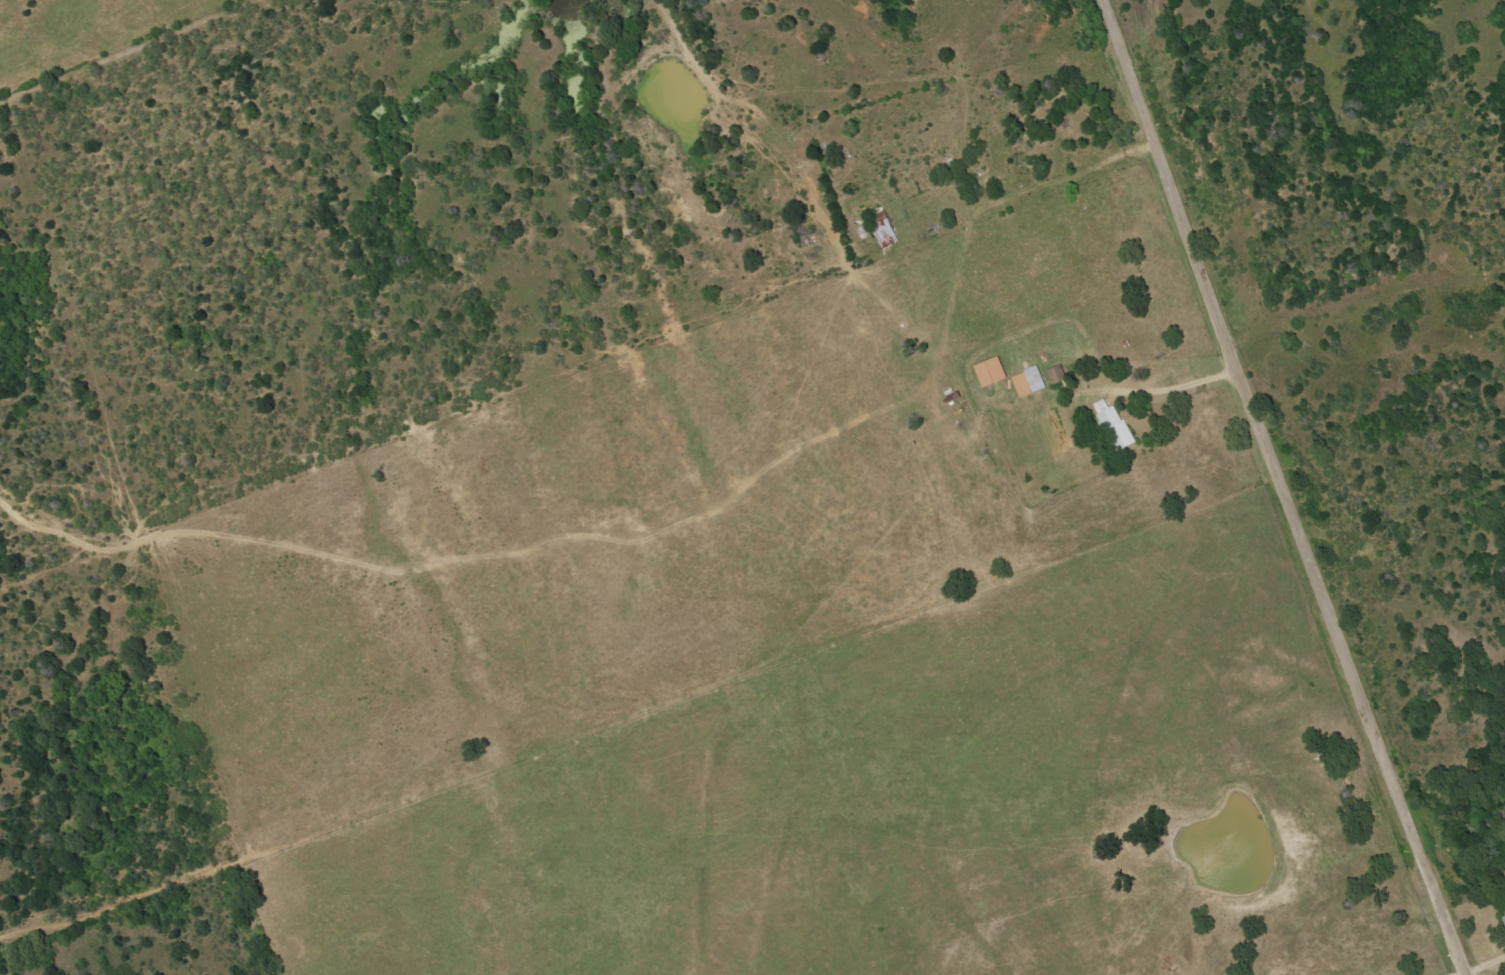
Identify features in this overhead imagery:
building: (992, 371)
building: (1030, 381)
building: (1115, 424)
road: (1284, 488)

